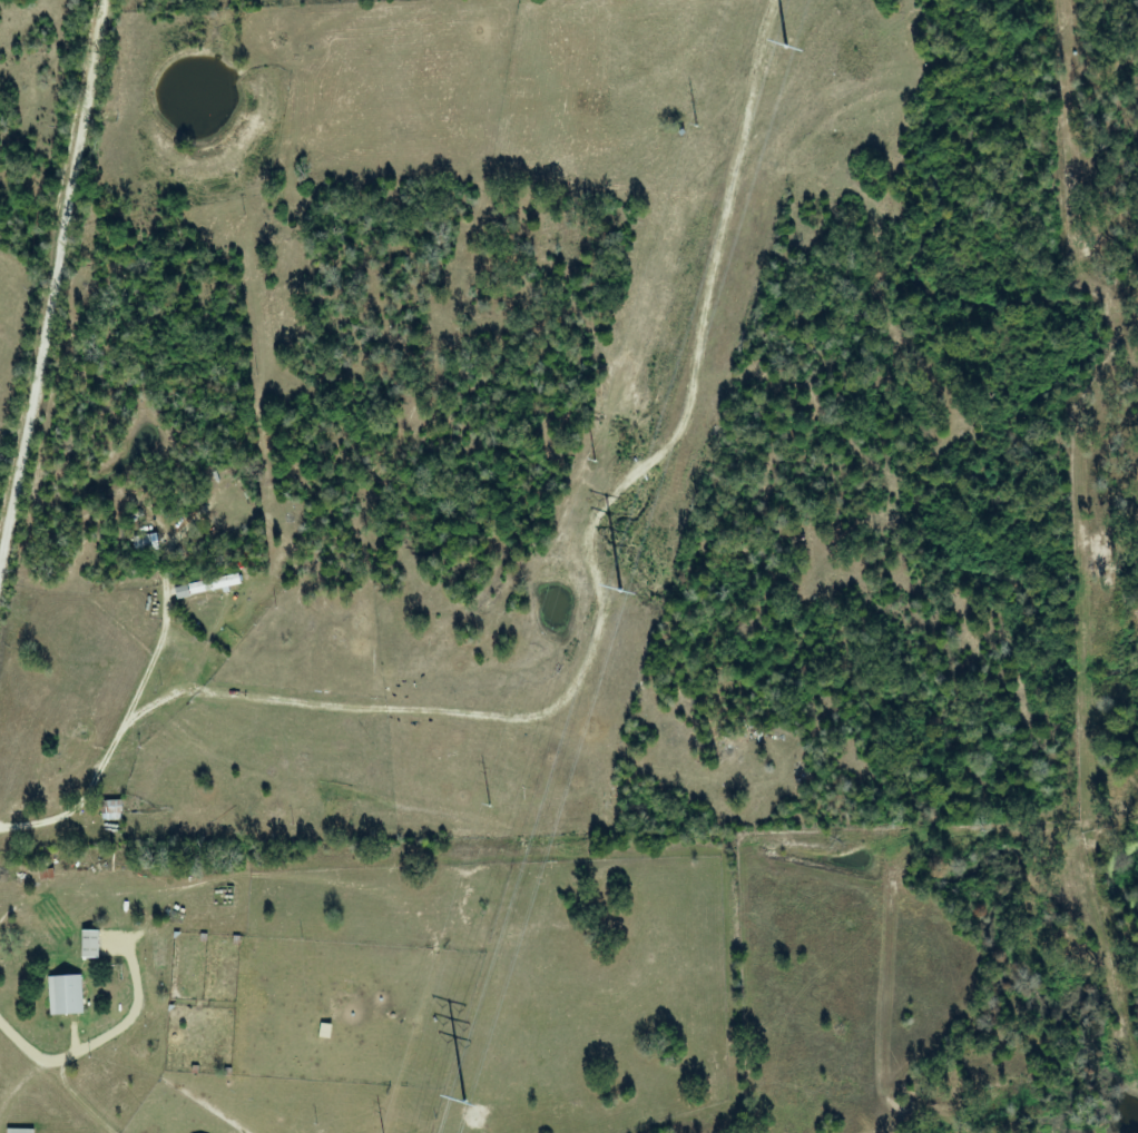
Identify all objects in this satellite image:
power tower: (695, 127)
road: (58, 284)
power tower: (595, 460)
building: (212, 585)
power tower: (490, 805)
building: (95, 945)
building: (70, 995)
building: (23, 1131)

